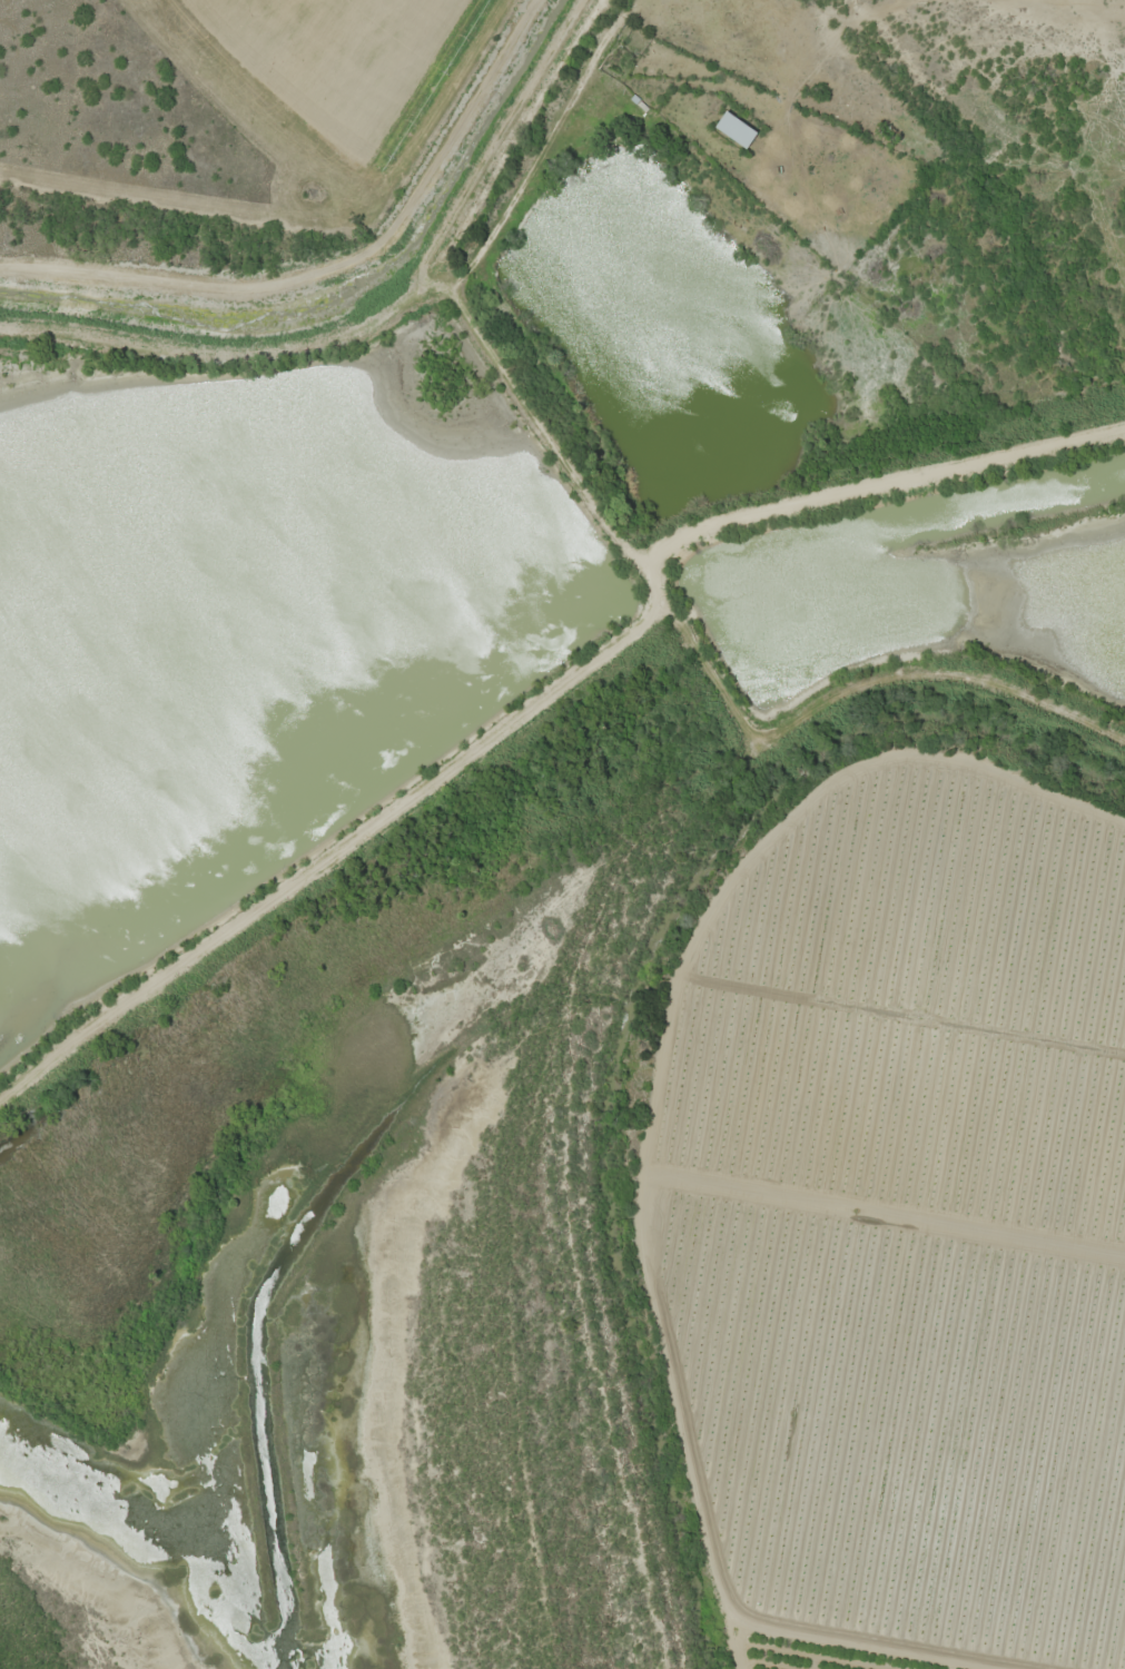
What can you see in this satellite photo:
building: (737, 130)
road: (326, 257)
road: (851, 1667)

